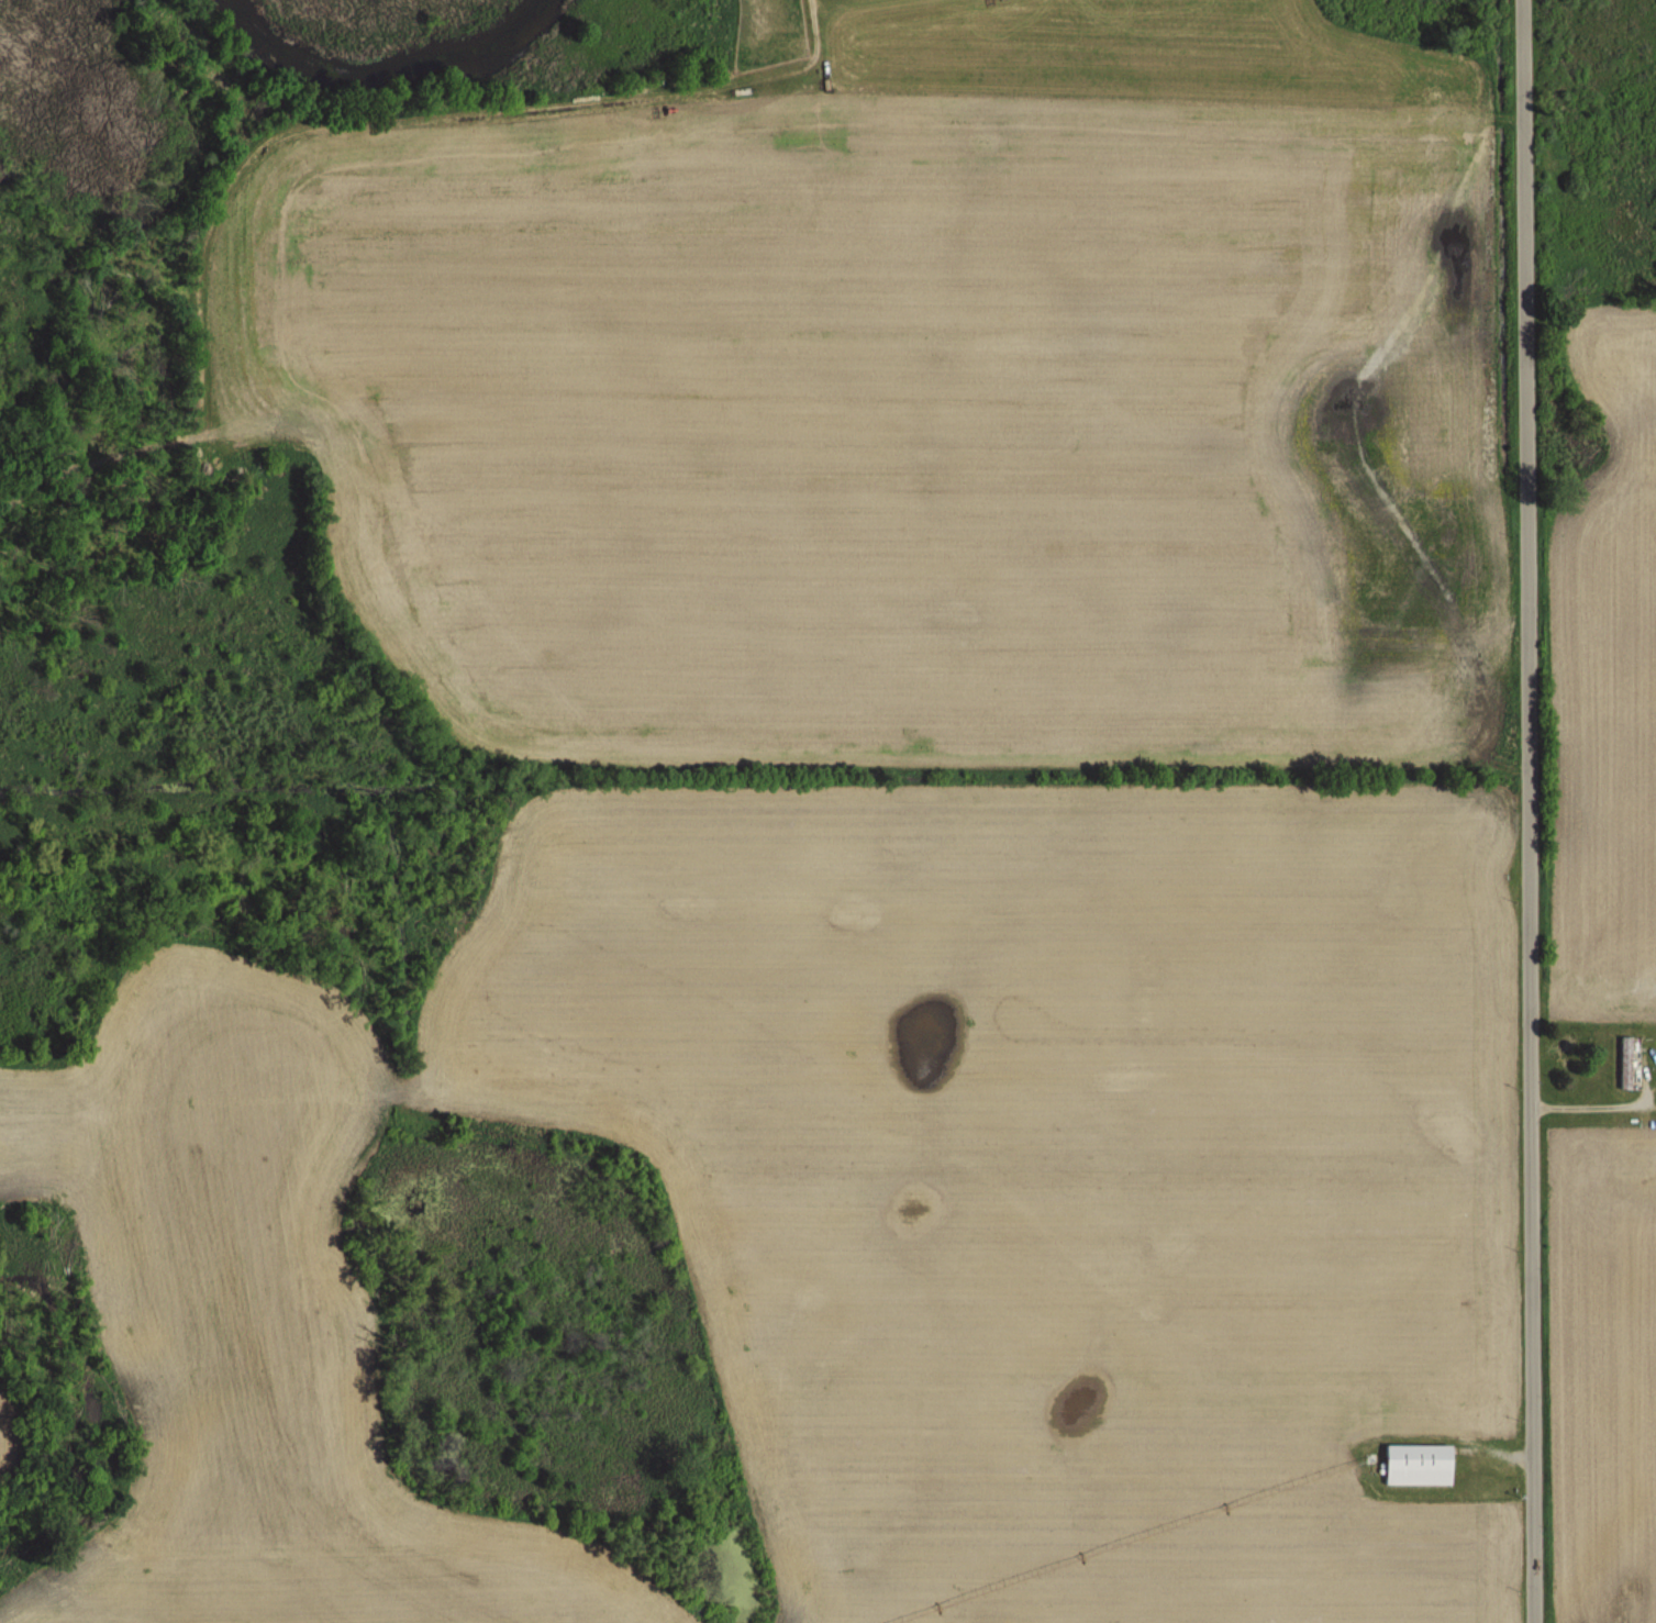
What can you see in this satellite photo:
river: (381, 76)
road: (1526, 811)
building: (1630, 1063)
building: (1420, 1464)

